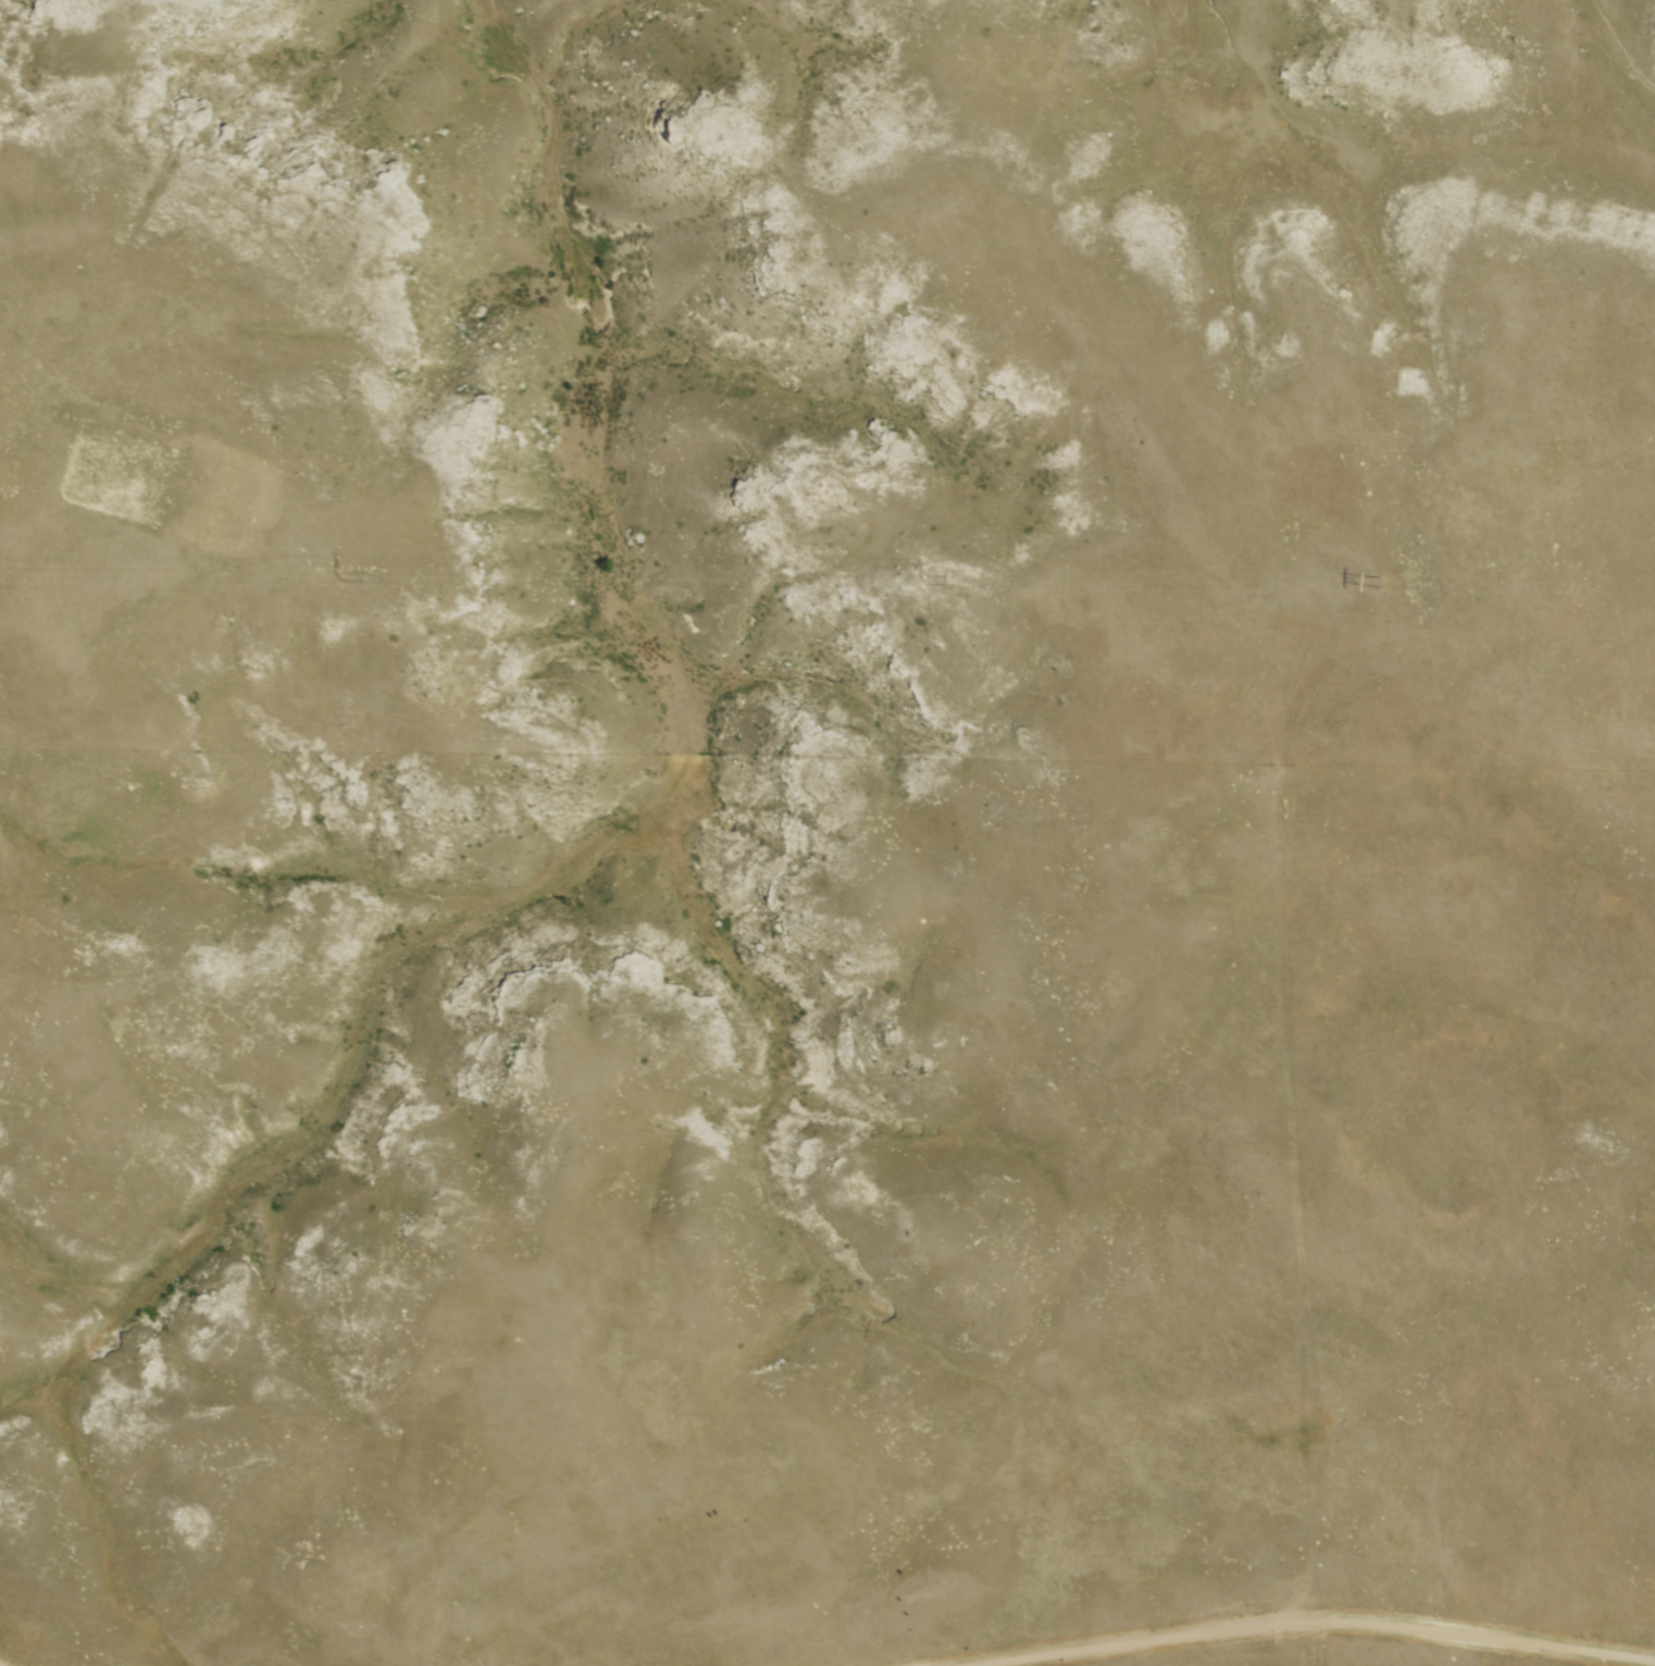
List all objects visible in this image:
power tower: (340, 574)
power tower: (921, 579)
power tower: (1382, 582)
road: (1327, 1625)

